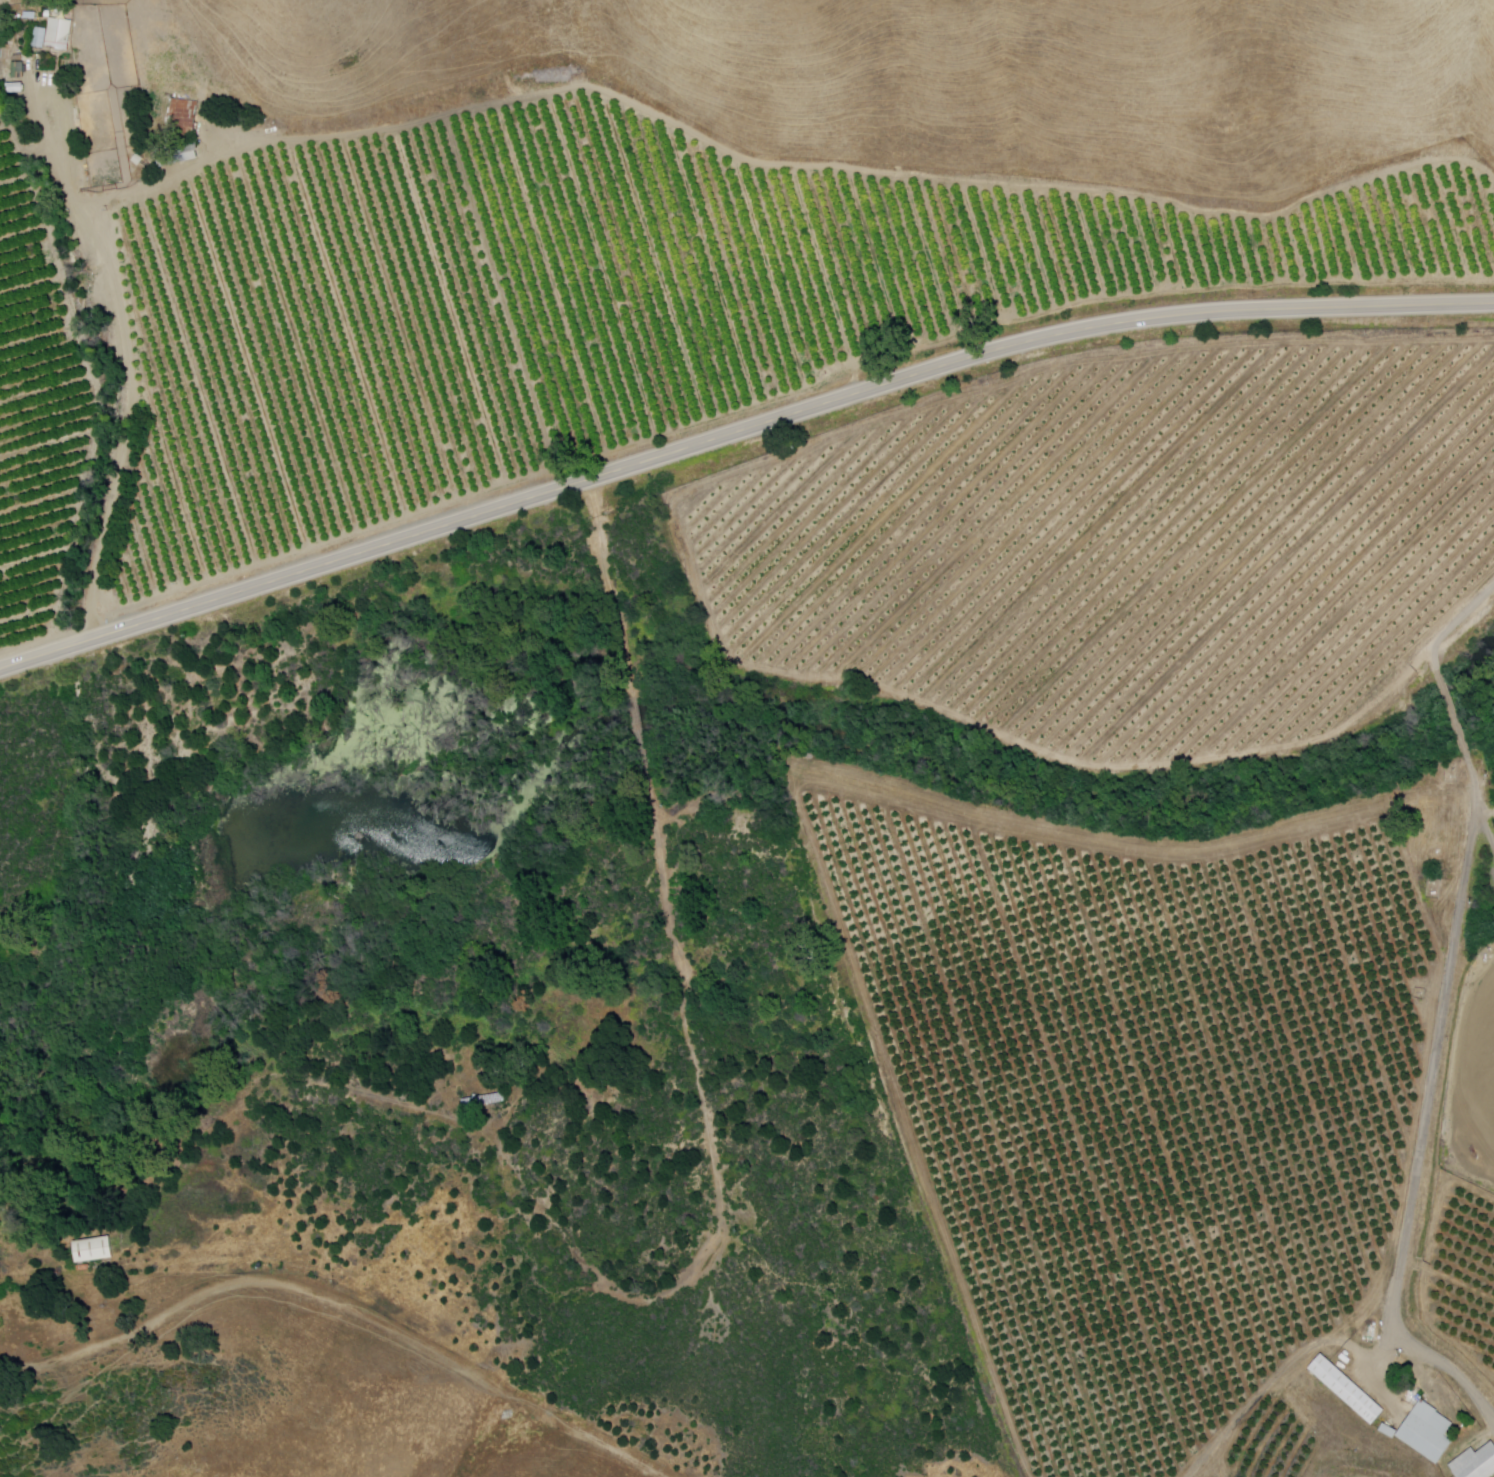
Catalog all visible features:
building: (57, 34)
building: (38, 37)
building: (183, 115)
building: (177, 155)
road: (117, 356)
road: (736, 432)
crop: (1126, 544)
road: (1455, 624)
road: (1453, 714)
road: (1487, 811)
crop: (1474, 1087)
crop: (1138, 1089)
building: (484, 1102)
road: (1427, 1109)
building: (91, 1249)
crop: (1464, 1276)
road: (343, 1306)
building: (1347, 1390)
building: (1427, 1432)
building: (1475, 1463)

